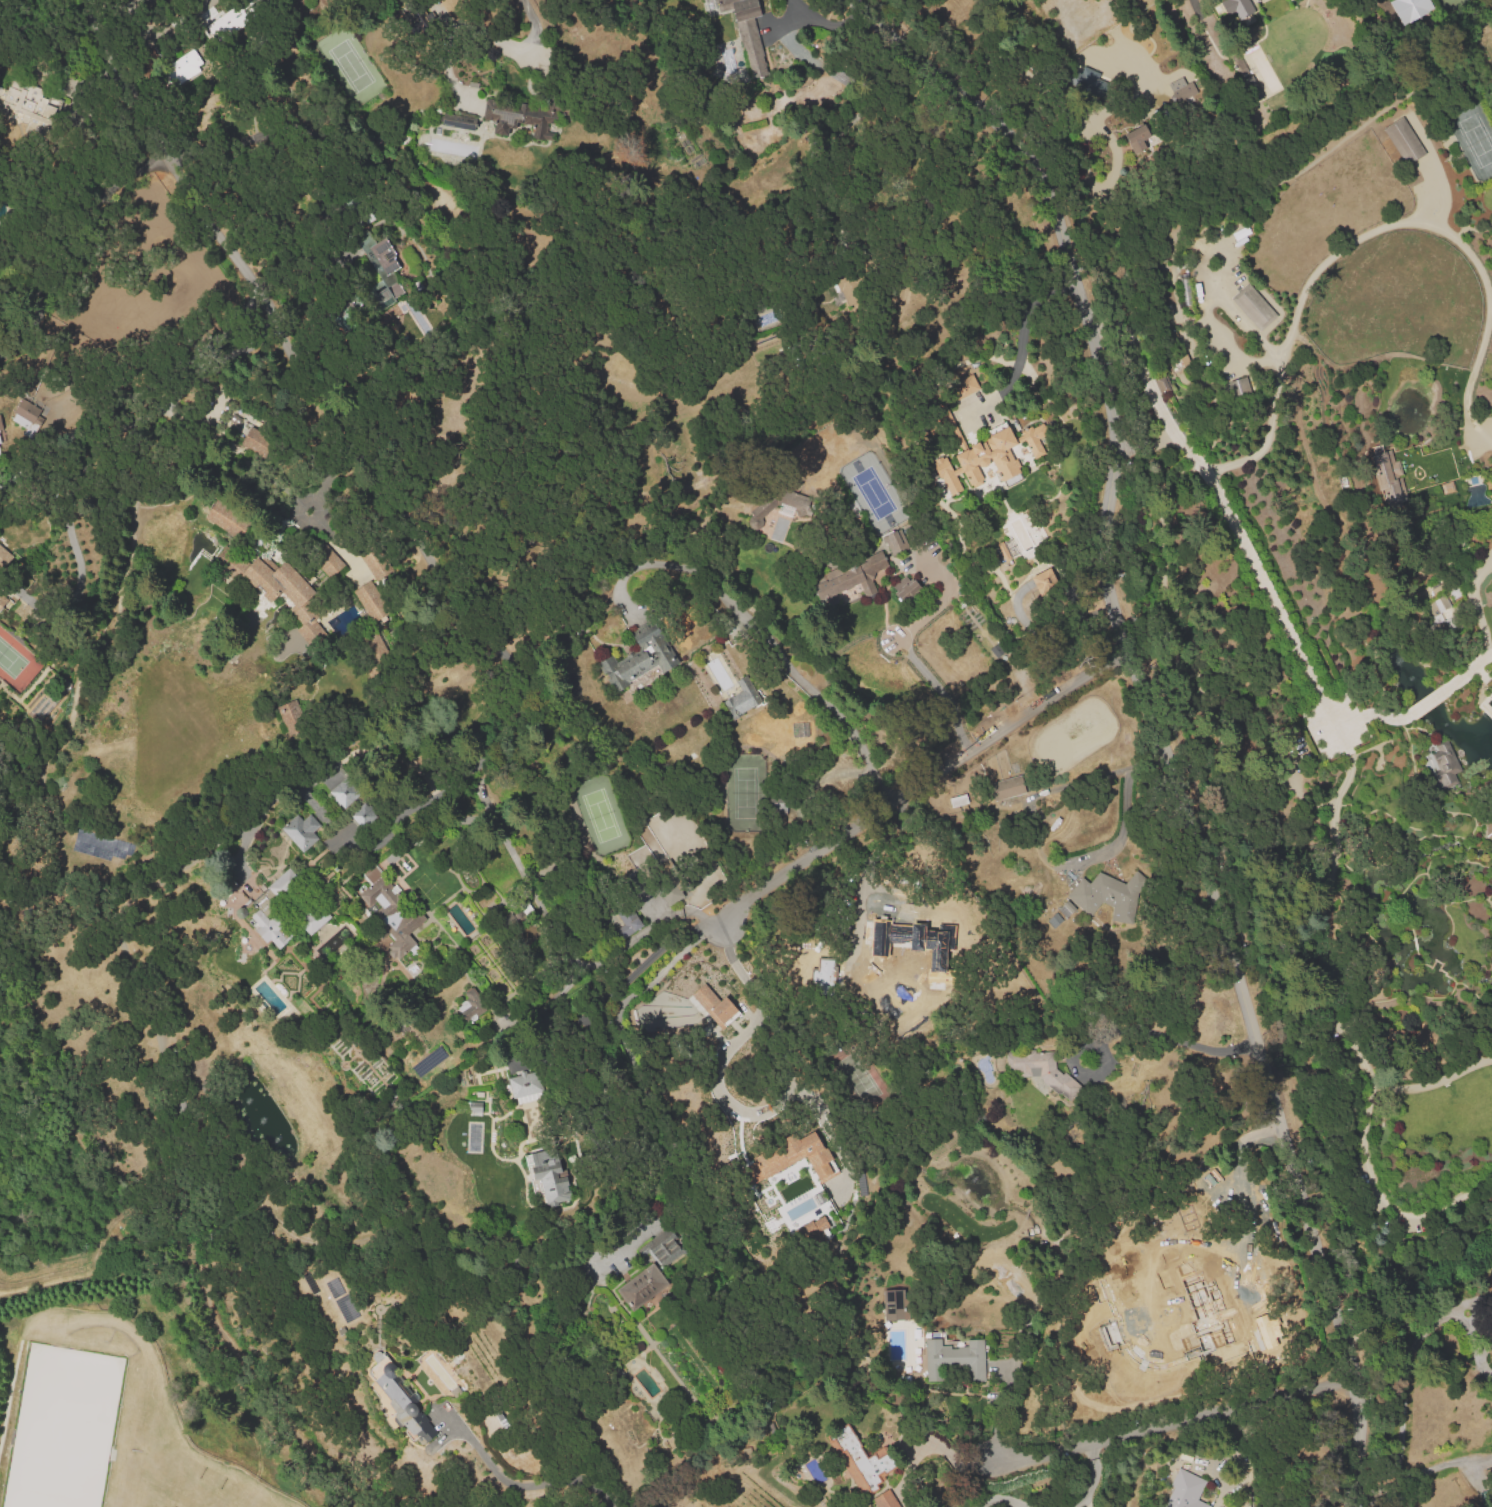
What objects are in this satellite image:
building: (258, 2)
building: (1280, 2)
building: (1236, 6)
building: (1410, 9)
building: (741, 11)
building: (227, 22)
road: (829, 25)
road: (532, 26)
building: (184, 66)
building: (1168, 66)
building: (1087, 79)
building: (1251, 87)
building: (1181, 88)
building: (28, 101)
building: (524, 120)
building: (459, 121)
building: (1260, 122)
building: (1140, 138)
building: (1404, 141)
road: (304, 145)
road: (1444, 192)
road: (1368, 233)
road: (75, 247)
building: (386, 269)
building: (838, 290)
building: (1254, 306)
road: (1023, 332)
building: (1162, 385)
building: (965, 387)
building: (1239, 389)
building: (31, 414)
building: (1, 436)
building: (258, 438)
building: (991, 457)
building: (1388, 476)
road: (326, 478)
building: (762, 508)
road: (403, 514)
building: (227, 519)
building: (895, 544)
building: (1004, 551)
building: (4, 557)
building: (375, 561)
building: (328, 563)
building: (867, 571)
building: (1046, 585)
building: (905, 589)
building: (286, 593)
road: (944, 597)
building: (1441, 598)
road: (1476, 600)
road: (1265, 601)
building: (2, 602)
building: (371, 602)
building: (373, 655)
building: (634, 665)
road: (940, 690)
building: (740, 700)
building: (291, 717)
road: (1153, 722)
building: (1442, 757)
road: (923, 781)
building: (1006, 787)
building: (344, 792)
building: (957, 800)
road: (1124, 814)
building: (364, 815)
building: (1489, 827)
building: (301, 831)
building: (283, 884)
building: (1109, 896)
building: (390, 907)
building: (314, 919)
building: (626, 925)
building: (270, 927)
building: (928, 957)
road: (625, 998)
building: (714, 1005)
building: (471, 1006)
road: (1170, 1038)
building: (1040, 1072)
road: (716, 1084)
building: (523, 1089)
building: (472, 1107)
building: (789, 1157)
building: (552, 1184)
building: (812, 1198)
building: (815, 1230)
building: (663, 1247)
building: (1148, 1262)
building: (643, 1288)
road: (1412, 1296)
building: (894, 1304)
building: (1200, 1306)
road: (1477, 1335)
building: (954, 1361)
building: (400, 1403)
road: (999, 1411)
road: (1402, 1411)
road: (1170, 1417)
building: (862, 1462)
road: (1442, 1465)
road: (1090, 1474)
road: (520, 1483)
building: (1184, 1491)
road: (1001, 1499)
road: (1078, 1499)
building: (885, 1500)

